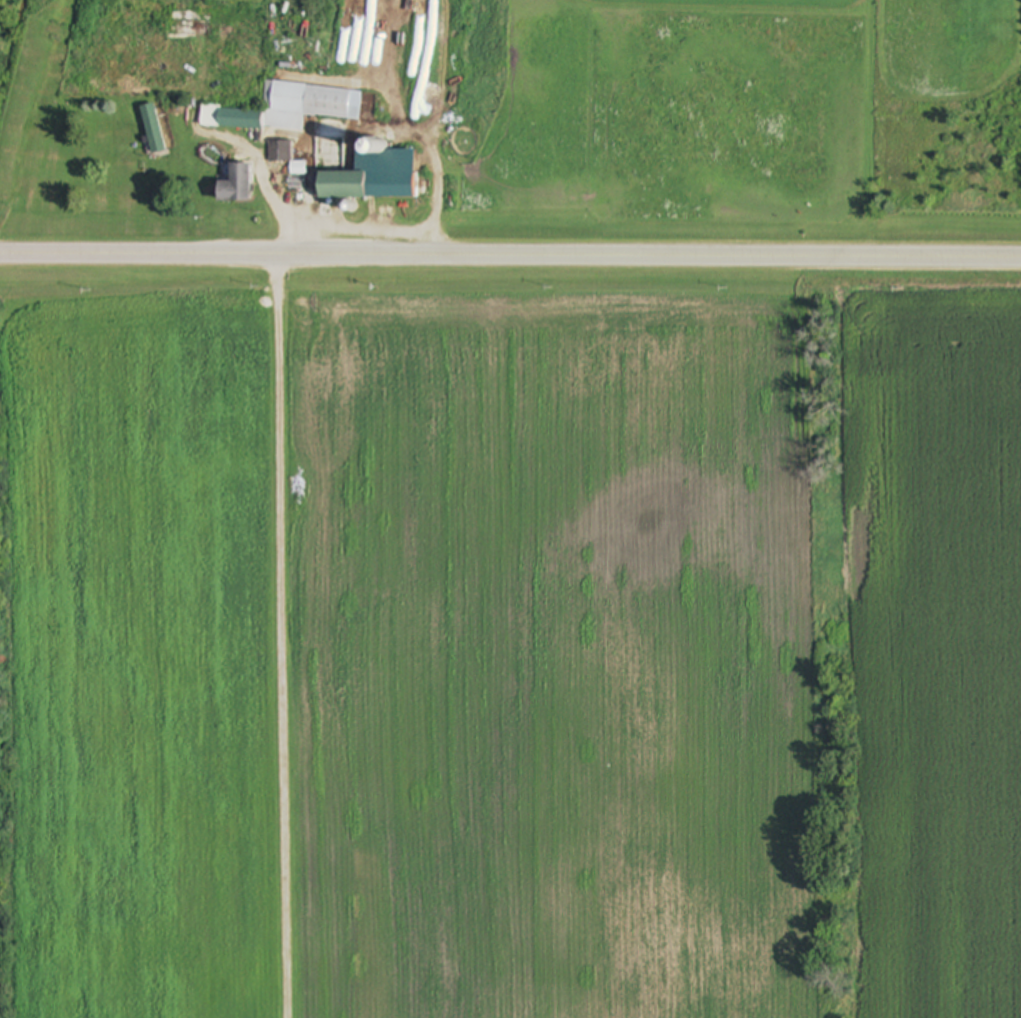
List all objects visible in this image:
building: (311, 102)
building: (232, 120)
building: (154, 131)
road: (421, 140)
building: (279, 153)
building: (373, 177)
building: (236, 187)
road: (510, 261)
road: (286, 638)

